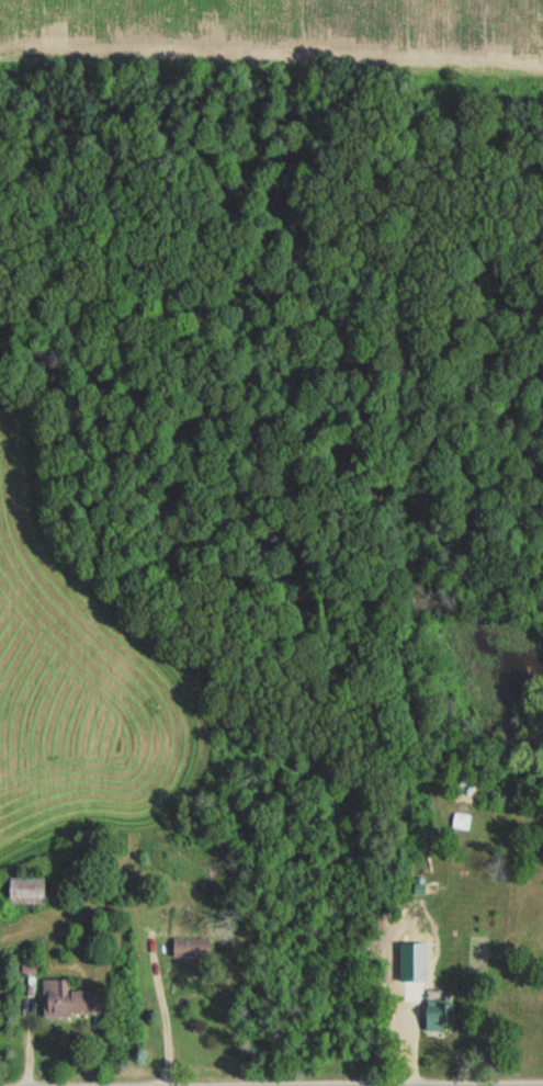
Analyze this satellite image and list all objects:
building: (25, 891)
building: (191, 948)
building: (406, 986)
building: (70, 999)
building: (439, 1011)

